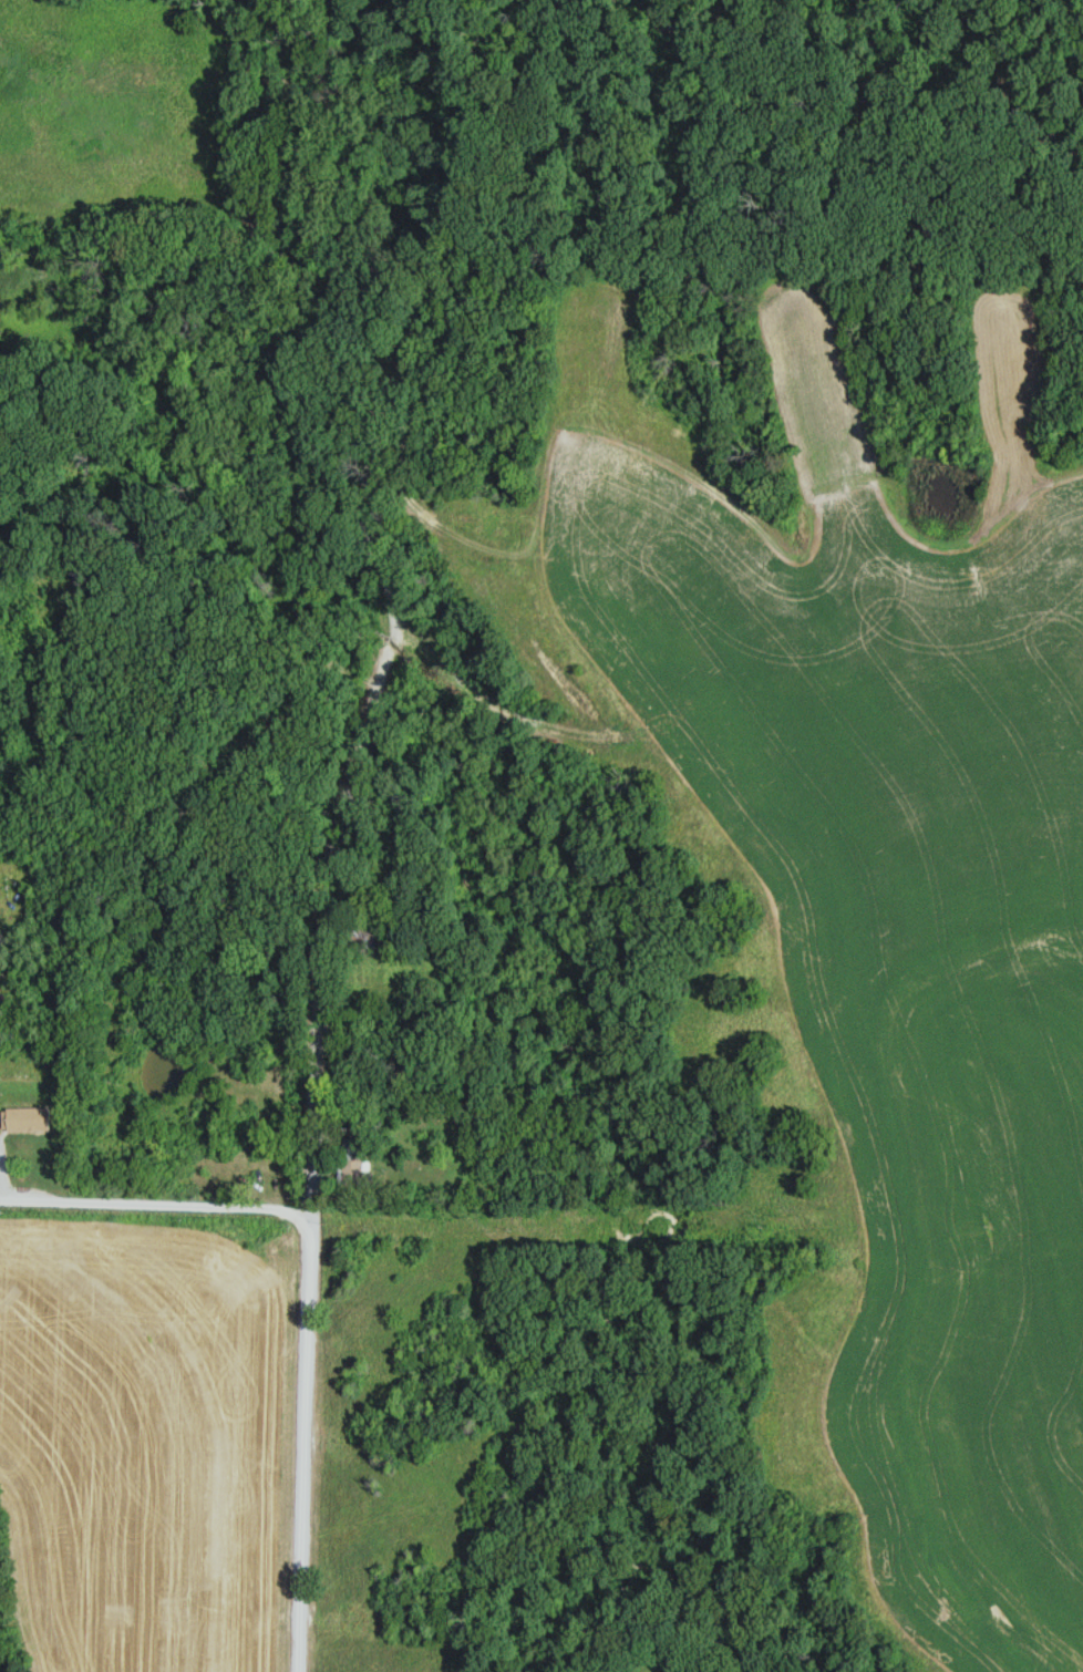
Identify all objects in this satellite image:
crop: (848, 927)
building: (25, 1119)
building: (359, 1163)
road: (58, 1203)
road: (306, 1351)

